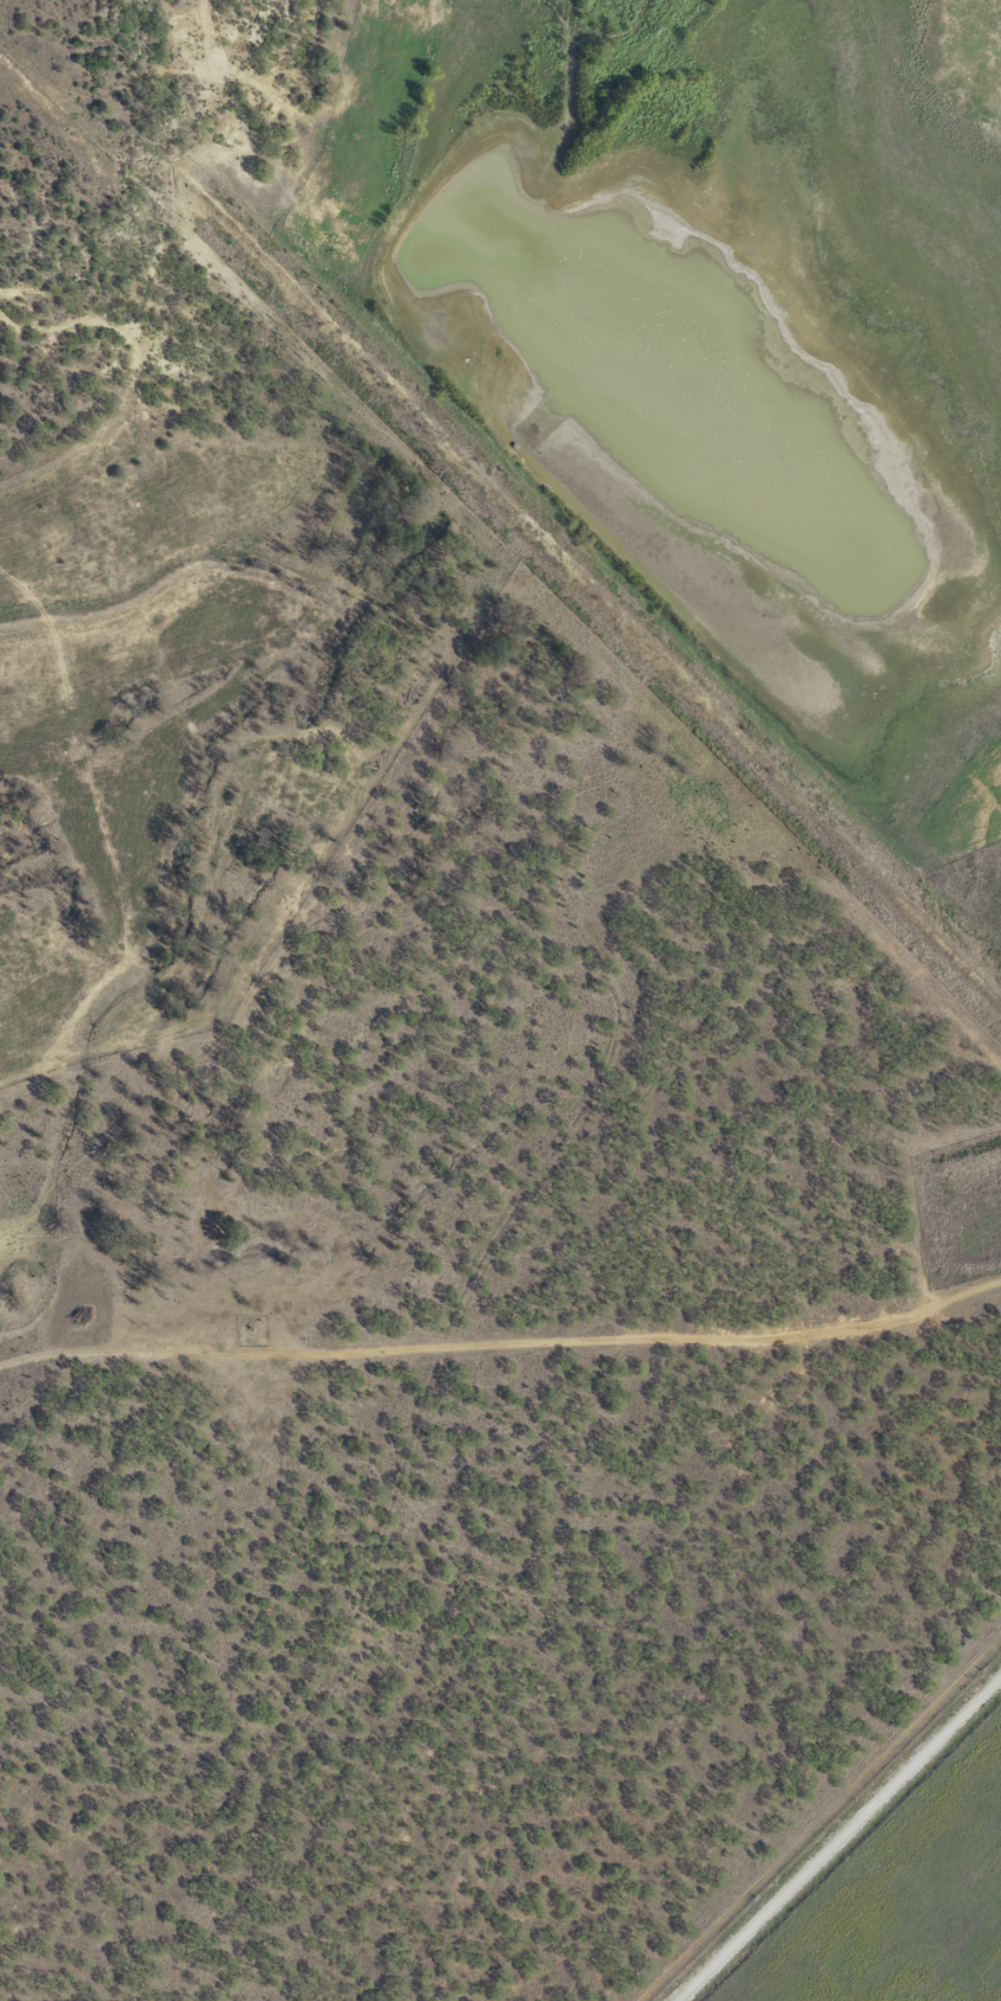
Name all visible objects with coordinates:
road: (843, 1840)

